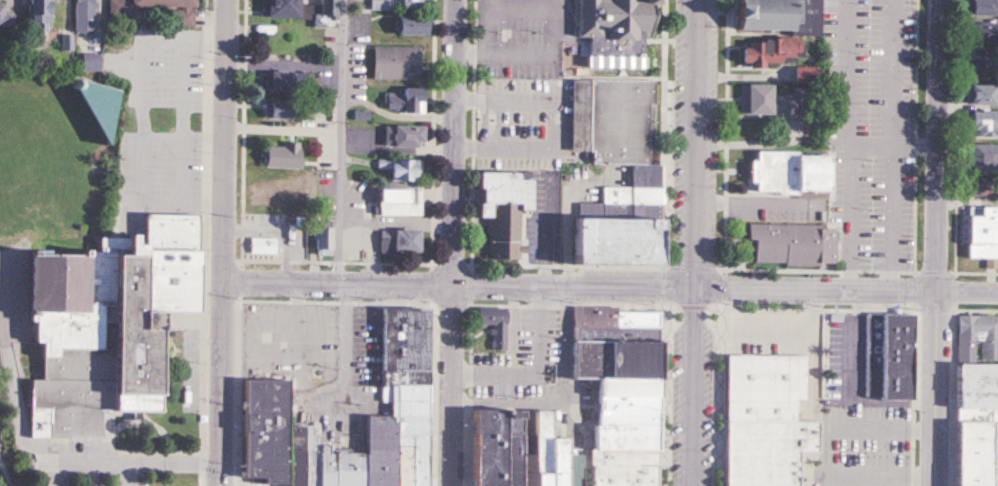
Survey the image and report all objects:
building: (381, 3)
building: (413, 4)
building: (986, 8)
building: (281, 9)
building: (321, 10)
building: (121, 12)
building: (39, 15)
building: (5, 16)
building: (84, 16)
building: (602, 23)
building: (413, 25)
building: (774, 28)
building: (983, 35)
road: (531, 59)
building: (91, 61)
building: (396, 62)
building: (986, 62)
road: (847, 71)
road: (891, 71)
building: (806, 75)
building: (289, 81)
building: (986, 94)
building: (767, 100)
building: (407, 101)
building: (282, 110)
road: (552, 124)
building: (986, 125)
building: (404, 136)
road: (325, 138)
road: (869, 143)
building: (986, 155)
building: (282, 156)
building: (613, 172)
building: (784, 173)
building: (400, 187)
building: (982, 189)
building: (270, 194)
road: (967, 200)
road: (751, 202)
building: (499, 213)
building: (980, 234)
building: (320, 238)
building: (396, 242)
road: (694, 242)
road: (223, 243)
building: (349, 243)
road: (454, 243)
road: (936, 243)
building: (789, 244)
building: (261, 246)
road: (458, 280)
road: (846, 287)
building: (97, 325)
building: (492, 325)
building: (977, 337)
building: (884, 358)
road: (539, 369)
building: (260, 389)
building: (615, 390)
building: (762, 419)
building: (974, 426)
road: (855, 431)
building: (489, 443)
road: (57, 460)
road: (879, 481)

